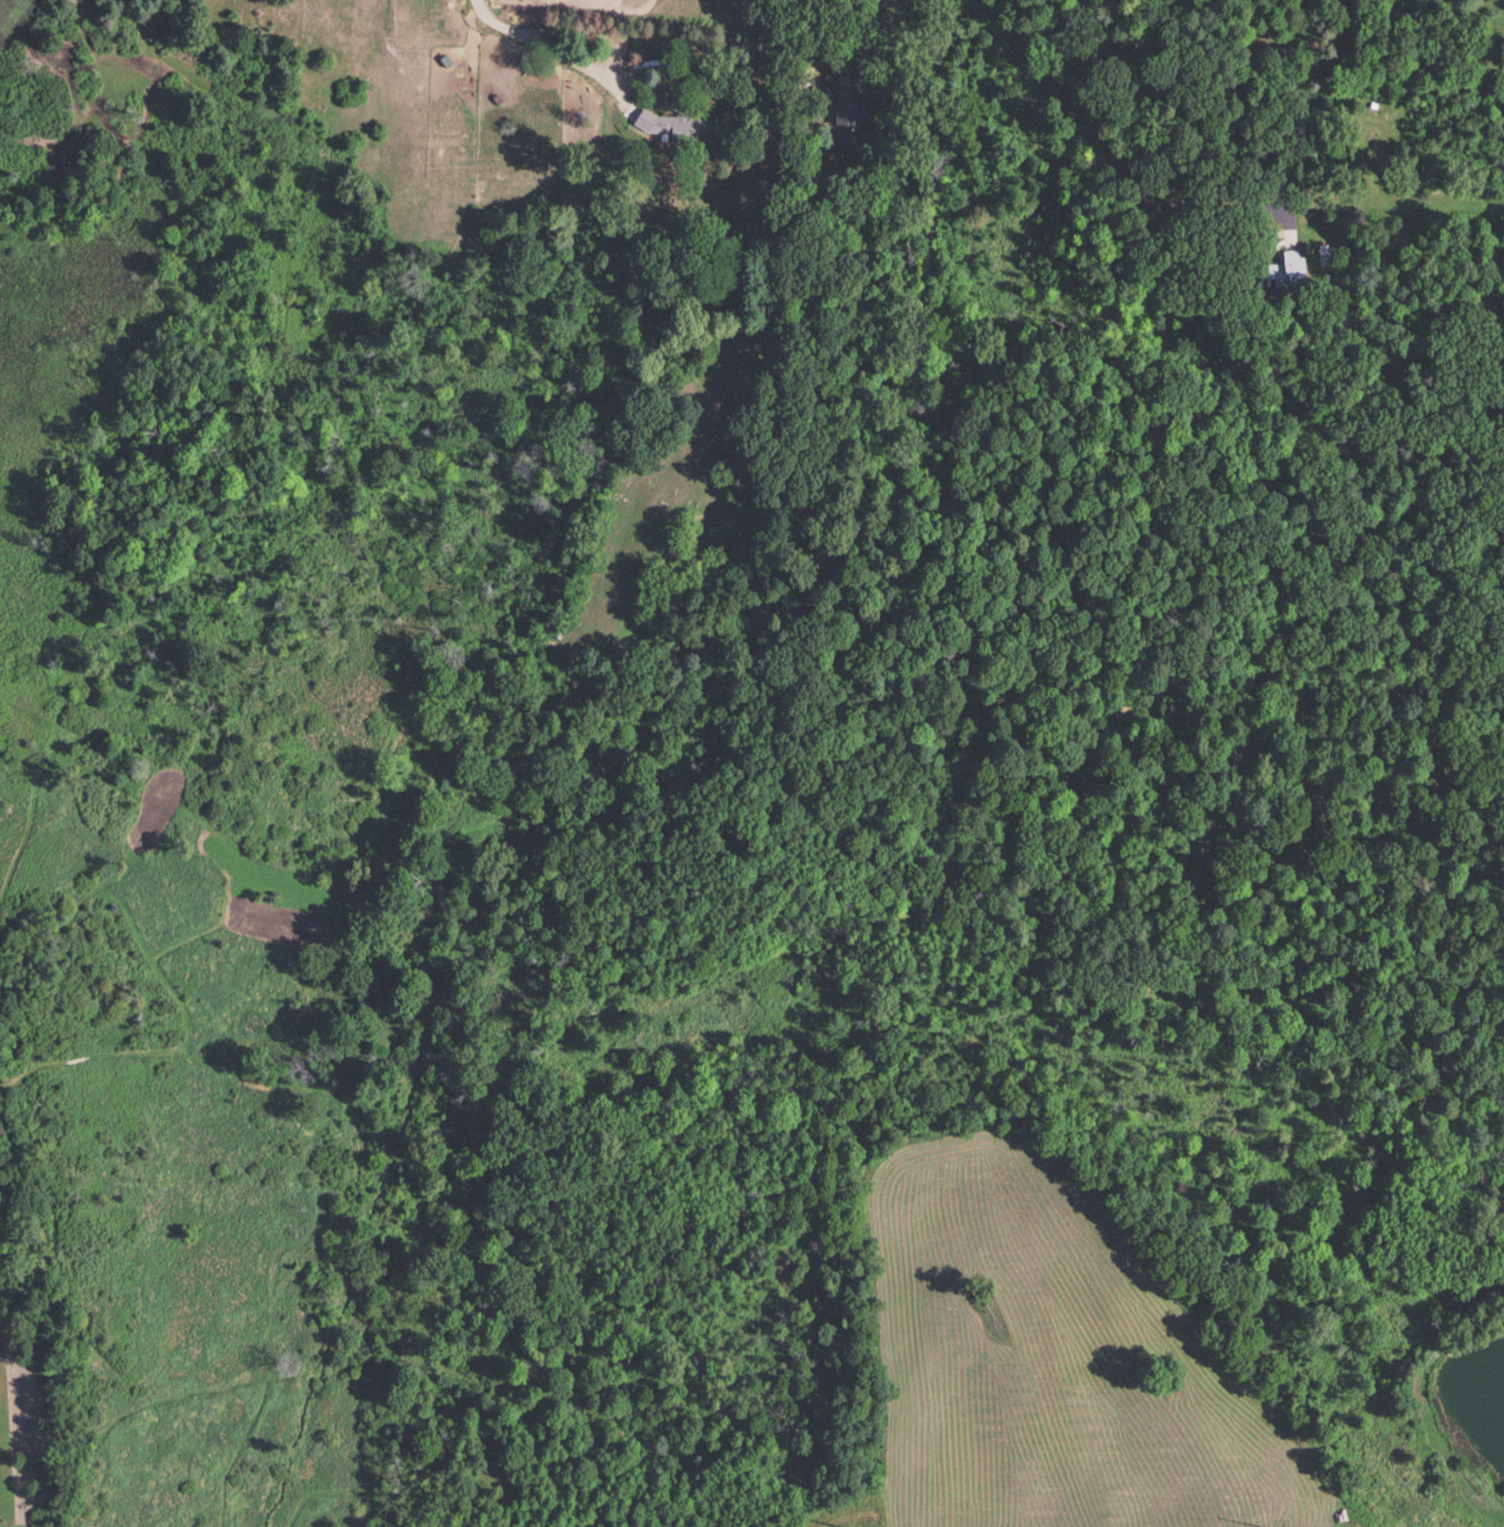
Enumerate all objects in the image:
road: (855, 37)
road: (549, 46)
road: (1236, 102)
building: (848, 107)
building: (1287, 267)
crop: (1053, 1367)
power tower: (1284, 1522)
power tower: (872, 1526)

